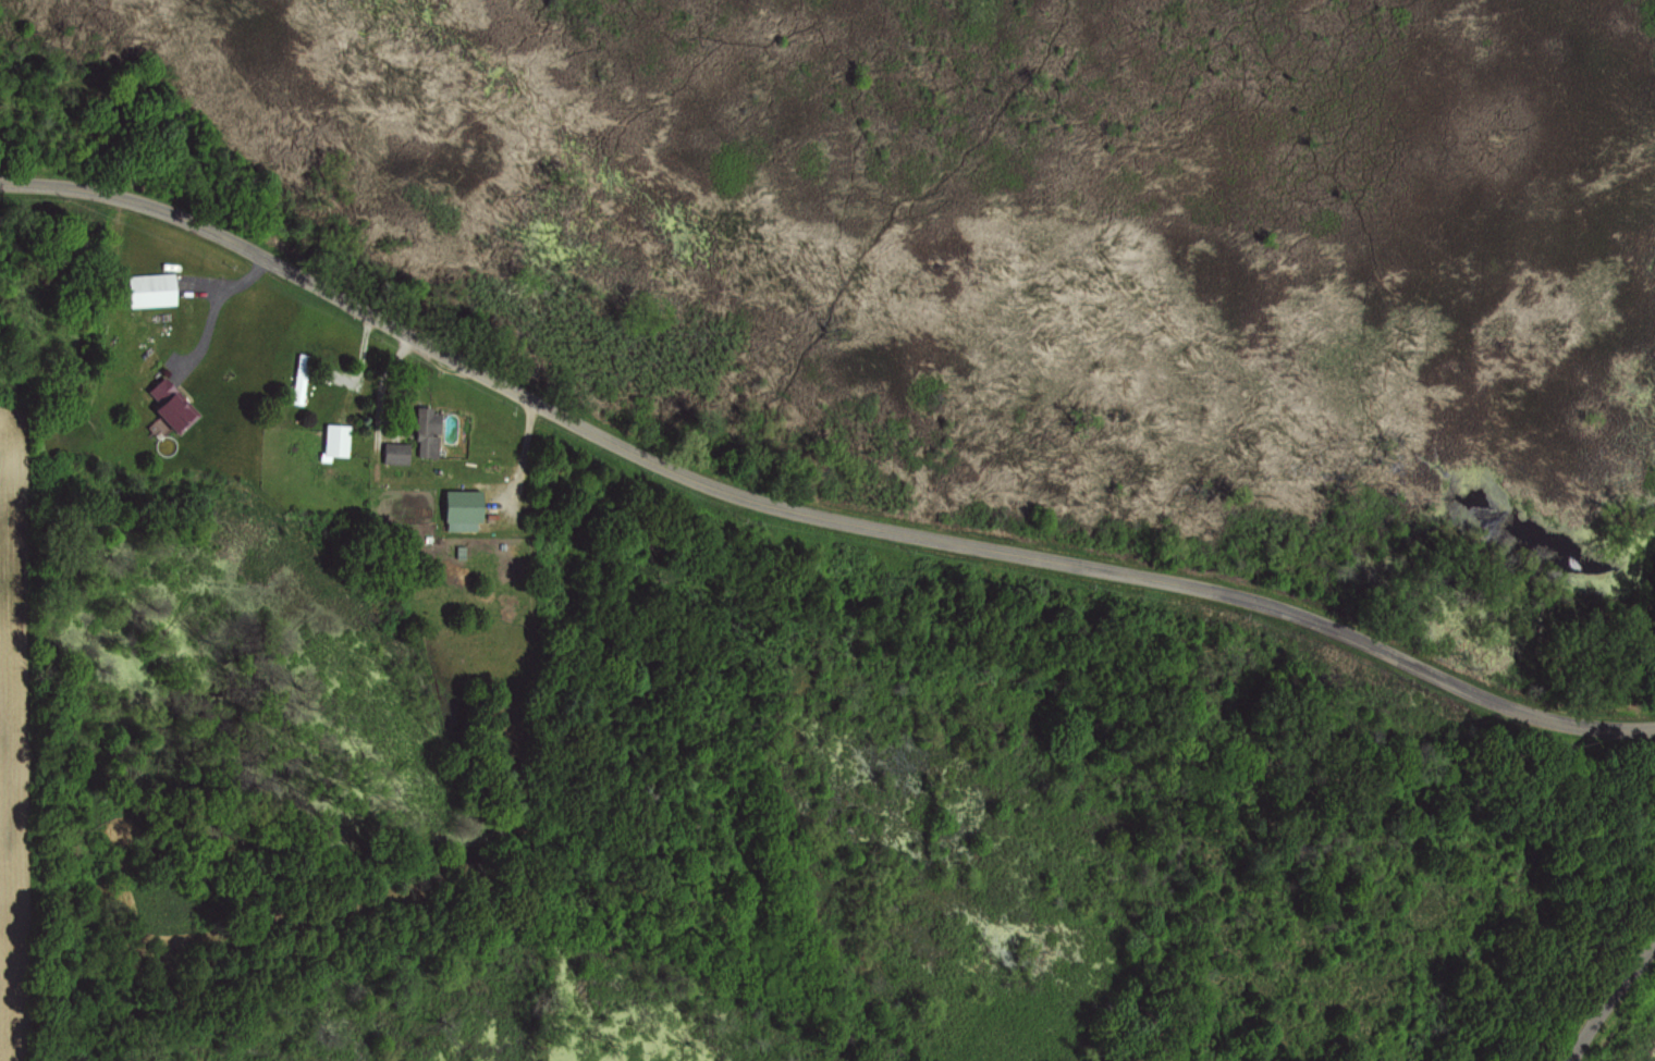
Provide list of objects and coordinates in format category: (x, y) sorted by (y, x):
building: (155, 289)
road: (213, 310)
building: (303, 380)
building: (176, 407)
building: (431, 433)
building: (341, 441)
building: (400, 454)
building: (467, 506)
road: (808, 518)
road: (1609, 1003)

